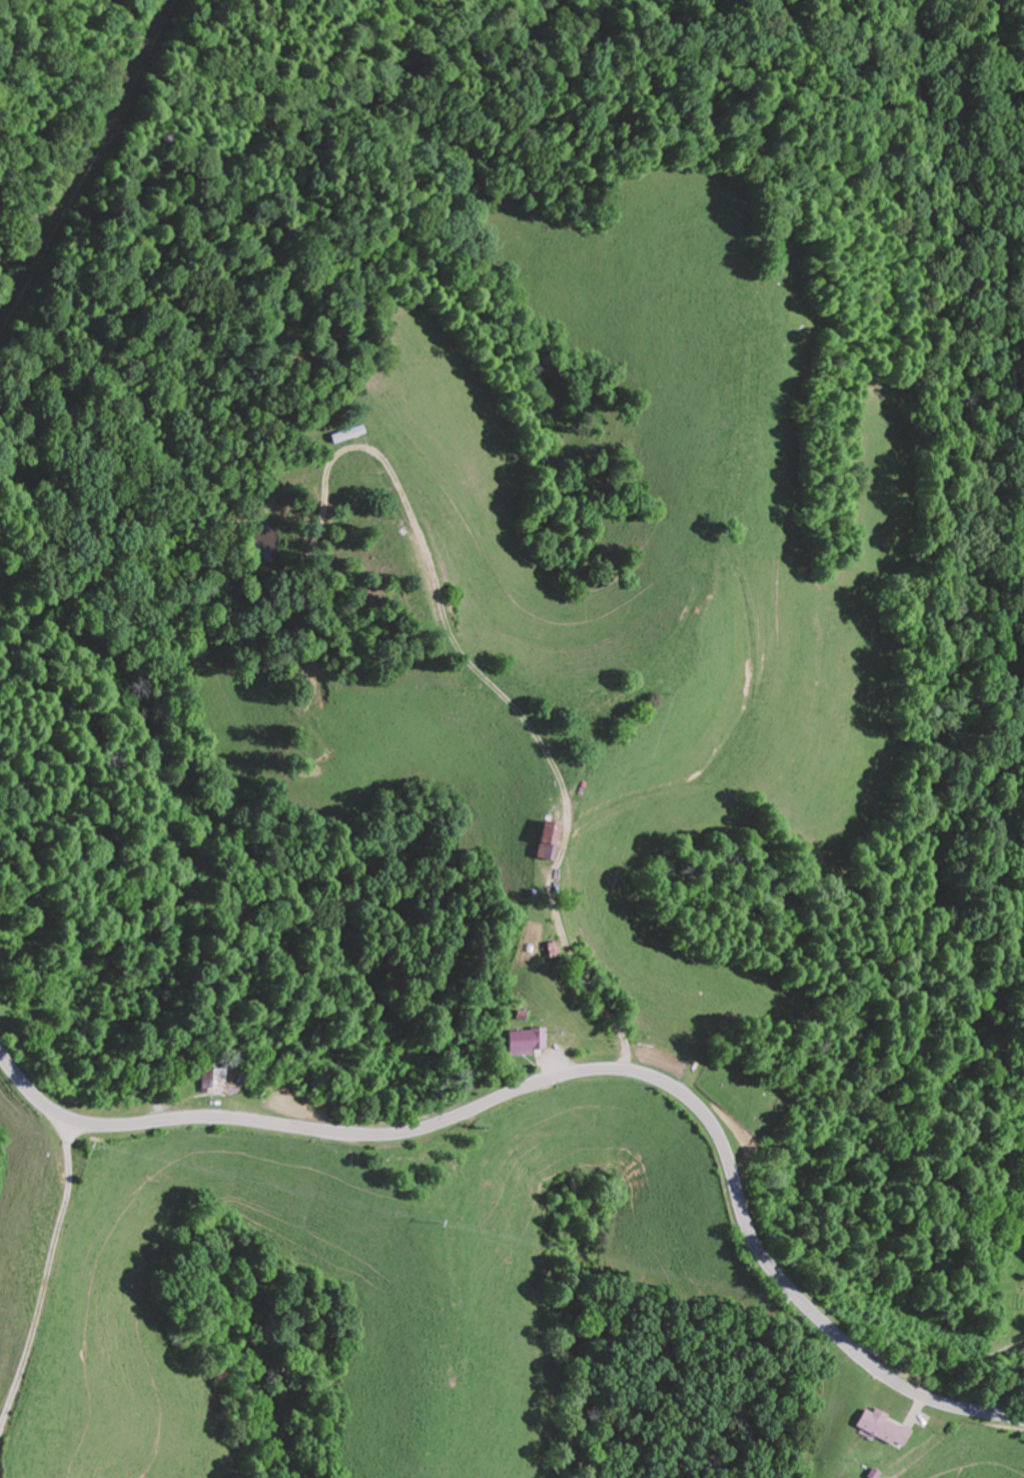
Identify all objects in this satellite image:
building: (544, 841)
building: (523, 1041)
road: (579, 1071)
building: (206, 1081)
park: (733, 1093)
road: (817, 1128)
road: (45, 1278)
building: (878, 1428)

